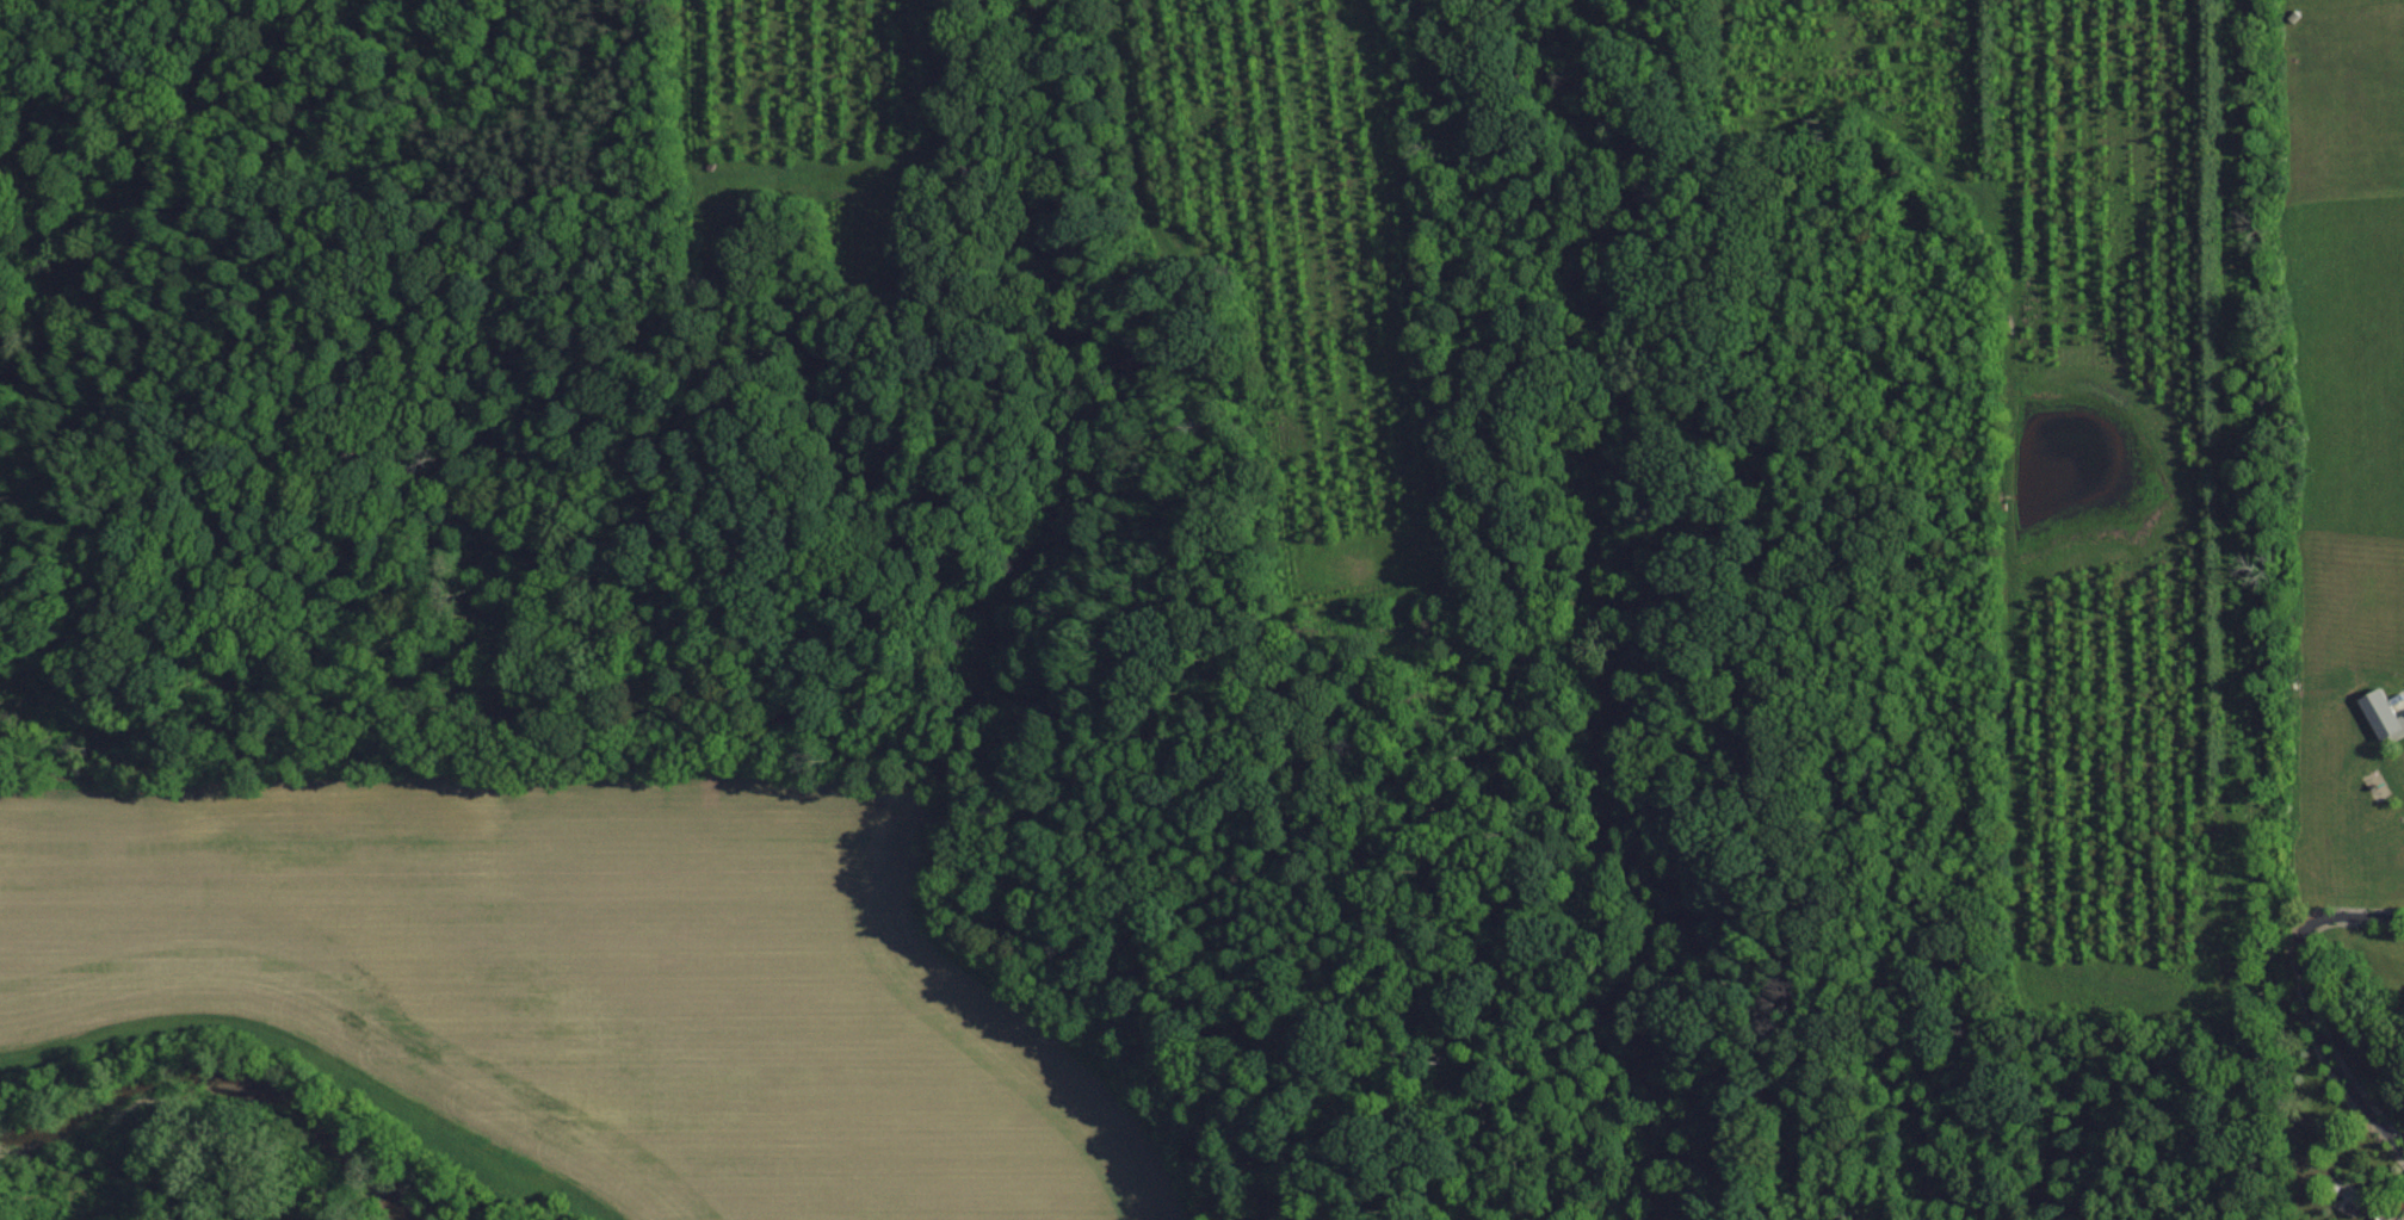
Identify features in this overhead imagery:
road: (2307, 993)

